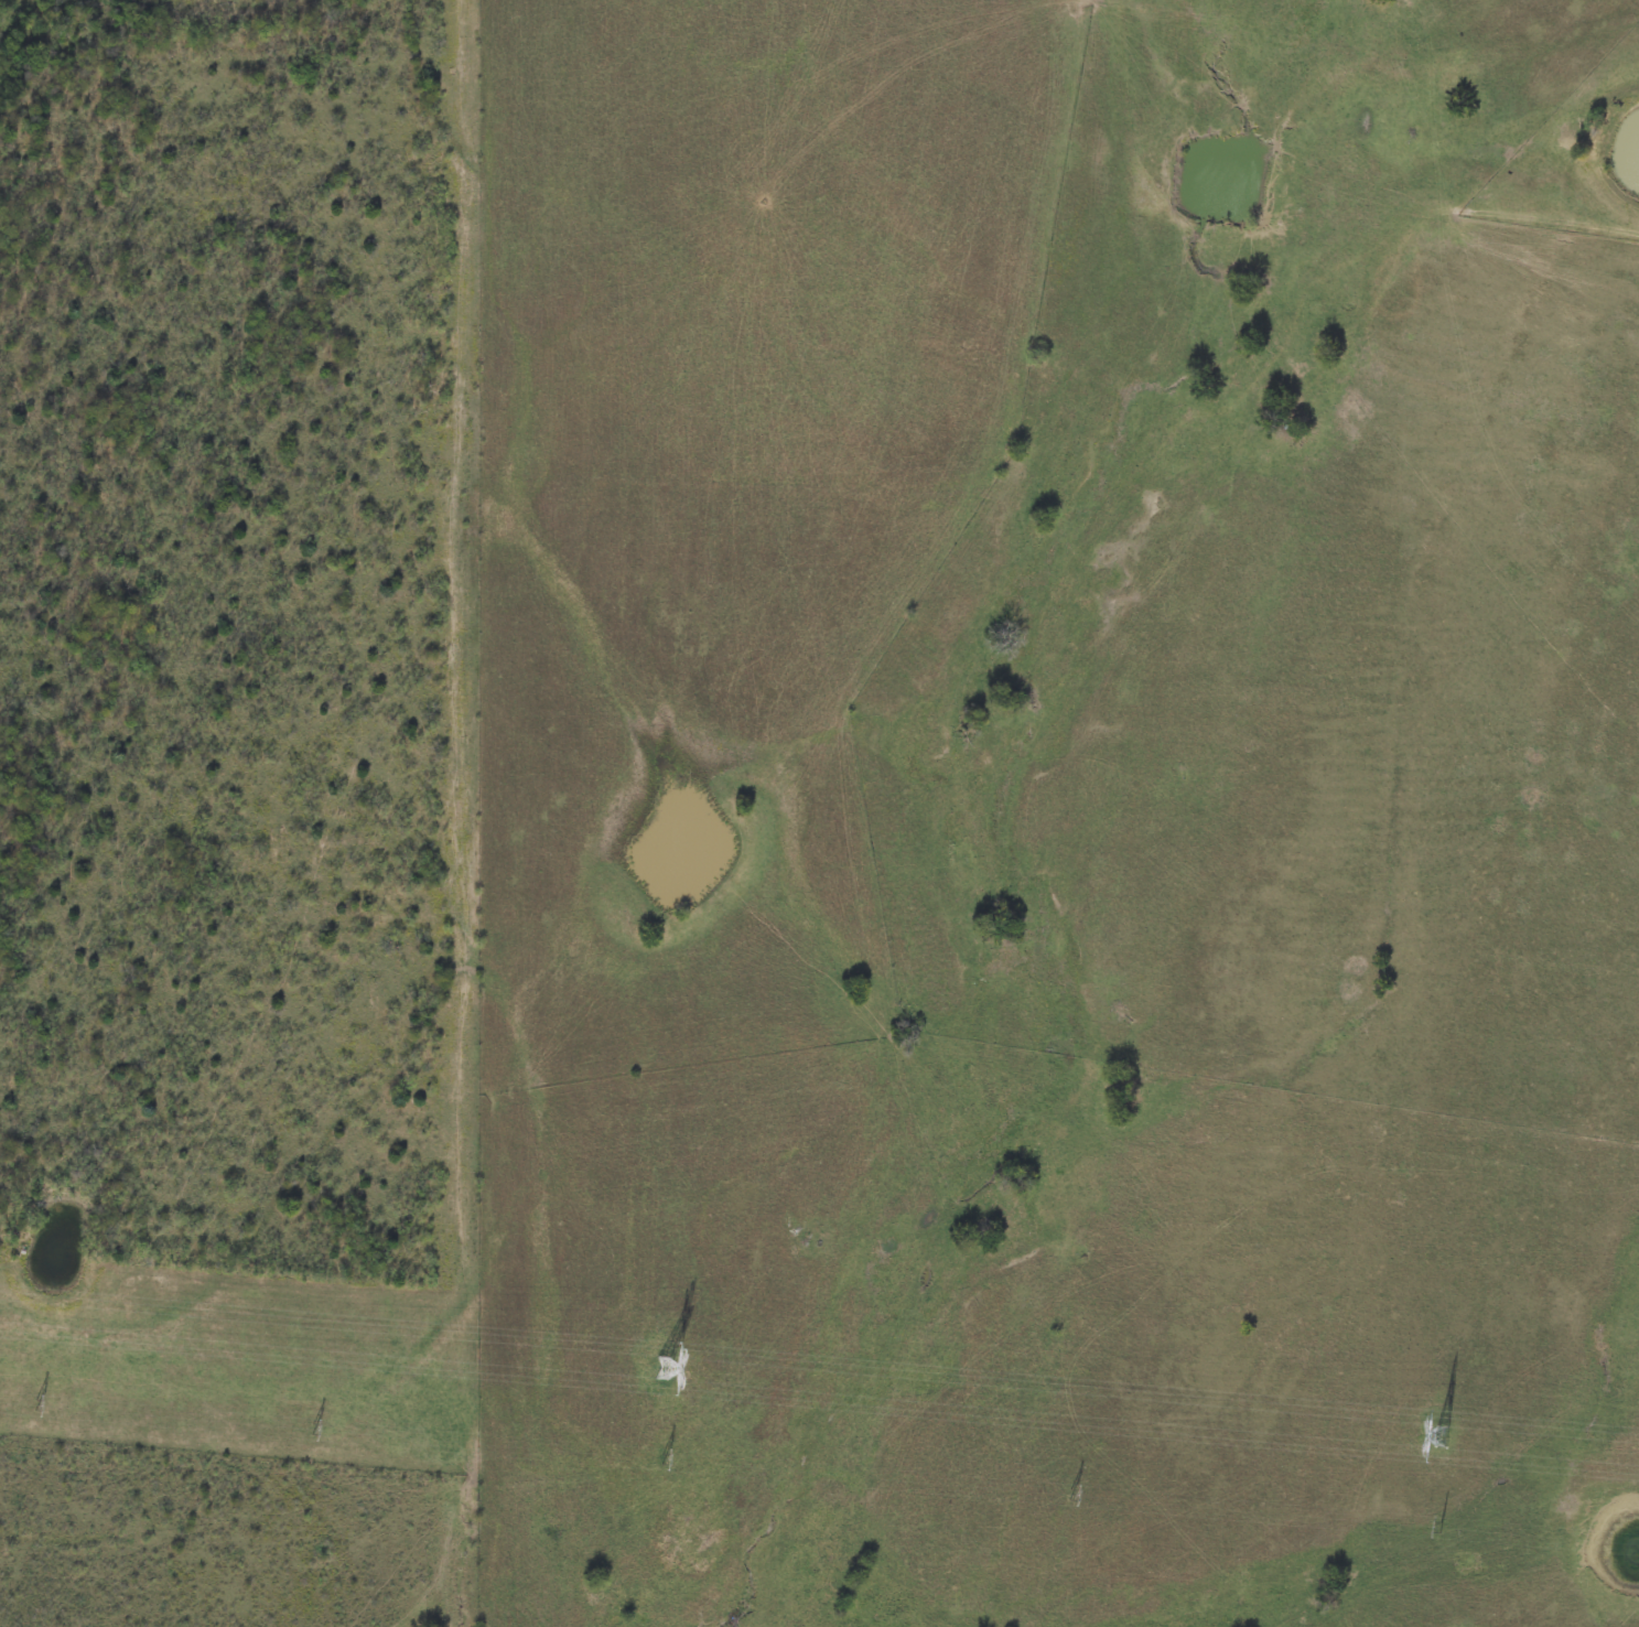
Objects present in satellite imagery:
power tower: (662, 1369)
power tower: (1442, 1435)

